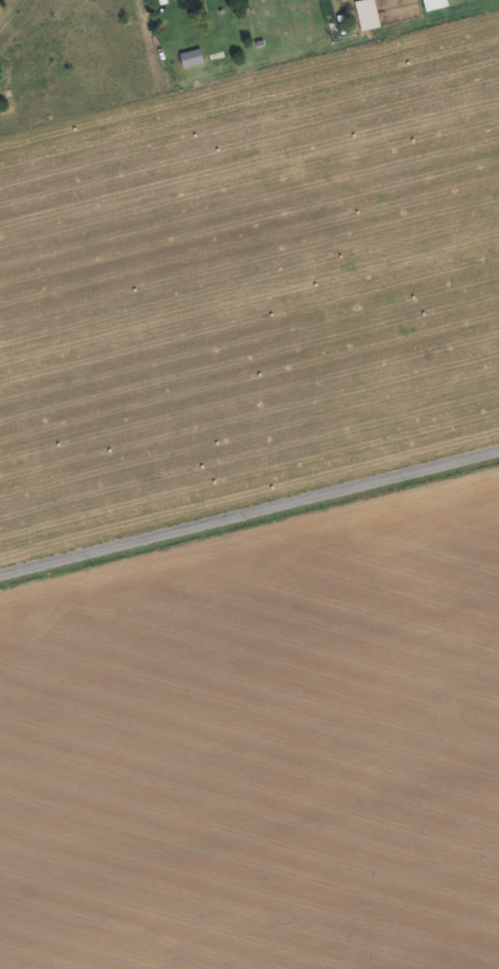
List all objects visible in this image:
building: (430, 5)
building: (364, 16)
road: (249, 517)

